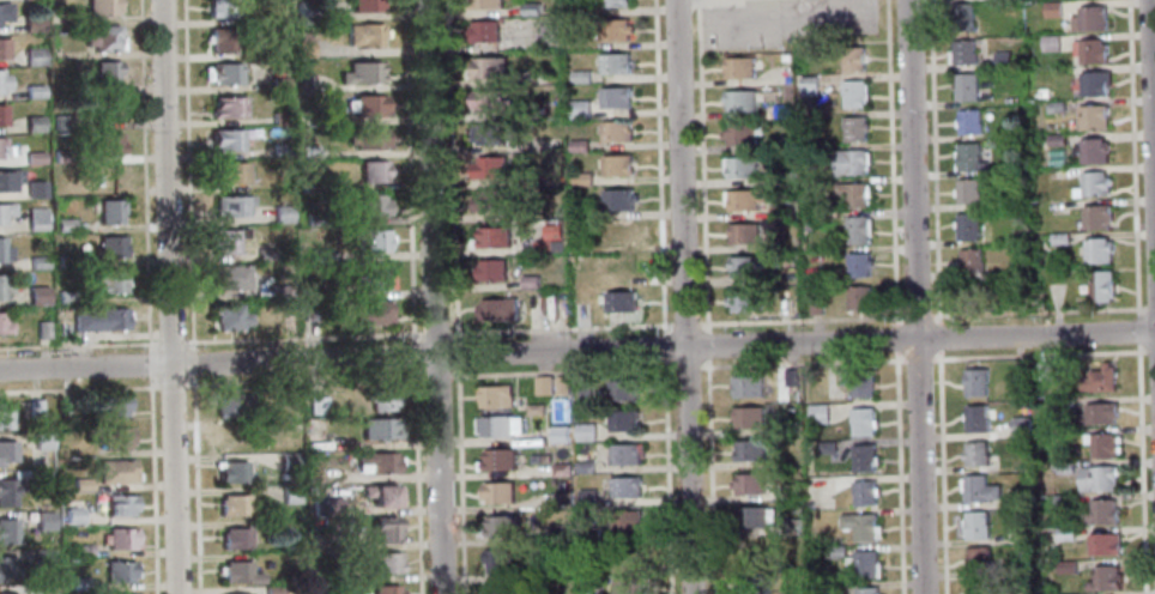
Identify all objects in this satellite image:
building: (612, 2)
building: (488, 4)
building: (364, 5)
building: (98, 7)
building: (220, 8)
building: (308, 10)
building: (532, 10)
building: (1052, 10)
building: (2, 11)
building: (963, 18)
building: (1090, 19)
building: (29, 22)
building: (612, 30)
building: (486, 31)
building: (363, 35)
building: (99, 37)
building: (550, 37)
building: (218, 40)
building: (1050, 44)
building: (1, 49)
building: (302, 49)
building: (1090, 53)
building: (962, 54)
building: (30, 56)
building: (853, 60)
building: (1002, 61)
building: (615, 63)
building: (296, 67)
building: (490, 67)
building: (739, 67)
building: (103, 72)
building: (222, 73)
building: (359, 73)
building: (539, 74)
building: (581, 77)
building: (1, 81)
building: (302, 83)
building: (277, 84)
building: (1095, 84)
building: (808, 86)
building: (966, 87)
building: (31, 91)
building: (853, 93)
building: (1042, 93)
building: (615, 97)
building: (740, 101)
building: (492, 102)
building: (368, 104)
building: (99, 107)
building: (225, 108)
building: (1054, 108)
building: (580, 109)
road: (1151, 110)
building: (781, 113)
building: (0, 116)
building: (278, 117)
building: (1094, 117)
building: (58, 123)
building: (968, 123)
building: (30, 125)
building: (853, 128)
building: (617, 132)
building: (489, 133)
building: (740, 134)
building: (224, 139)
building: (370, 139)
building: (1056, 140)
building: (104, 144)
building: (579, 146)
building: (782, 146)
building: (5, 148)
building: (279, 150)
building: (1094, 151)
building: (307, 152)
building: (60, 156)
building: (30, 157)
building: (968, 157)
road: (1132, 157)
road: (890, 162)
road: (933, 162)
building: (851, 163)
building: (617, 165)
road: (658, 165)
road: (702, 165)
building: (490, 166)
building: (740, 166)
road: (450, 169)
building: (1016, 169)
road: (409, 170)
building: (370, 171)
building: (228, 172)
road: (186, 175)
road: (143, 176)
building: (6, 177)
building: (103, 177)
building: (582, 178)
building: (784, 178)
building: (308, 186)
building: (1093, 186)
building: (61, 188)
building: (32, 189)
building: (968, 192)
building: (853, 194)
building: (618, 199)
building: (744, 199)
building: (491, 200)
building: (230, 206)
building: (368, 206)
building: (4, 208)
building: (107, 211)
building: (779, 212)
building: (280, 213)
building: (1096, 217)
building: (34, 219)
building: (315, 219)
building: (61, 224)
building: (968, 226)
building: (859, 229)
building: (618, 234)
building: (745, 234)
building: (495, 237)
building: (1059, 238)
building: (368, 240)
building: (225, 241)
building: (107, 248)
building: (543, 248)
building: (1097, 250)
building: (4, 253)
building: (262, 254)
building: (320, 254)
building: (61, 260)
building: (970, 260)
building: (35, 262)
building: (859, 265)
building: (745, 266)
building: (491, 271)
building: (229, 277)
building: (373, 277)
building: (105, 280)
building: (531, 281)
building: (2, 284)
building: (1100, 286)
building: (283, 290)
building: (327, 291)
building: (35, 296)
building: (62, 296)
road: (168, 297)
road: (434, 297)
road: (683, 297)
road: (914, 297)
building: (860, 298)
building: (745, 301)
building: (619, 302)
building: (816, 305)
road: (1150, 308)
building: (369, 310)
building: (497, 310)
road: (1036, 311)
building: (309, 313)
road: (915, 315)
building: (229, 317)
building: (96, 319)
road: (799, 319)
road: (684, 325)
building: (2, 327)
road: (560, 328)
building: (40, 329)
building: (60, 329)
road: (1137, 329)
road: (435, 333)
road: (937, 337)
road: (302, 338)
road: (894, 338)
road: (169, 343)
road: (78, 345)
road: (706, 345)
road: (664, 346)
road: (576, 351)
road: (1150, 351)
road: (413, 353)
road: (456, 353)
road: (1039, 354)
road: (918, 358)
road: (800, 363)
road: (149, 364)
road: (191, 364)
road: (684, 368)
building: (1040, 370)
road: (560, 371)
road: (435, 376)
building: (791, 378)
building: (1097, 378)
road: (303, 381)
building: (858, 382)
building: (974, 382)
building: (543, 384)
building: (562, 384)
road: (170, 386)
building: (748, 387)
road: (79, 389)
building: (585, 389)
building: (622, 390)
building: (495, 395)
building: (380, 398)
building: (1063, 402)
building: (110, 404)
building: (230, 405)
building: (315, 405)
building: (32, 408)
building: (533, 410)
building: (1100, 413)
building: (818, 414)
building: (2, 417)
building: (749, 417)
building: (975, 418)
building: (623, 420)
building: (861, 422)
building: (500, 425)
building: (380, 428)
building: (1020, 428)
building: (585, 432)
building: (561, 434)
building: (1058, 436)
building: (113, 437)
building: (231, 438)
building: (38, 440)
building: (1102, 445)
building: (826, 448)
building: (5, 450)
building: (749, 451)
building: (625, 453)
building: (975, 453)
building: (863, 457)
building: (539, 459)
building: (497, 460)
building: (289, 461)
building: (379, 462)
building: (583, 467)
building: (1064, 467)
road: (1139, 468)
building: (114, 469)
building: (562, 469)
building: (231, 471)
road: (896, 472)
road: (941, 472)
building: (332, 475)
building: (41, 477)
road: (667, 477)
road: (709, 477)
building: (1028, 477)
building: (1097, 478)
road: (417, 480)
road: (459, 480)
building: (79, 483)
building: (749, 484)
road: (151, 485)
road: (194, 485)
building: (624, 487)
building: (7, 490)
building: (979, 490)
building: (497, 492)
building: (790, 492)
building: (864, 492)
building: (383, 493)
building: (288, 495)
building: (587, 497)
building: (562, 499)
building: (1063, 501)
building: (117, 505)
building: (232, 505)
building: (329, 507)
building: (1106, 513)
building: (71, 514)
building: (755, 517)
building: (42, 520)
building: (627, 521)
building: (501, 526)
building: (976, 526)
building: (266, 527)
building: (792, 527)
building: (863, 527)
building: (637, 528)
building: (386, 529)
building: (6, 531)
building: (562, 533)
building: (592, 534)
building: (1064, 534)
building: (236, 537)
building: (117, 539)
building: (1103, 545)
building: (80, 550)
building: (754, 552)
building: (835, 552)
building: (41, 554)
building: (978, 558)
building: (631, 559)
building: (387, 562)
building: (497, 562)
building: (866, 564)
building: (6, 566)
building: (1065, 568)
building: (117, 570)
building: (237, 572)
building: (566, 572)
building: (337, 576)
building: (1103, 578)
building: (78, 583)
building: (752, 583)
building: (628, 586)
building: (981, 587)
building: (385, 589)
building: (497, 589)
building: (833, 589)
building: (50, 590)
building: (271, 590)
building: (792, 590)
building: (866, 590)
building: (10, 593)
building: (122, 593)
building: (237, 593)
building: (592, 593)

